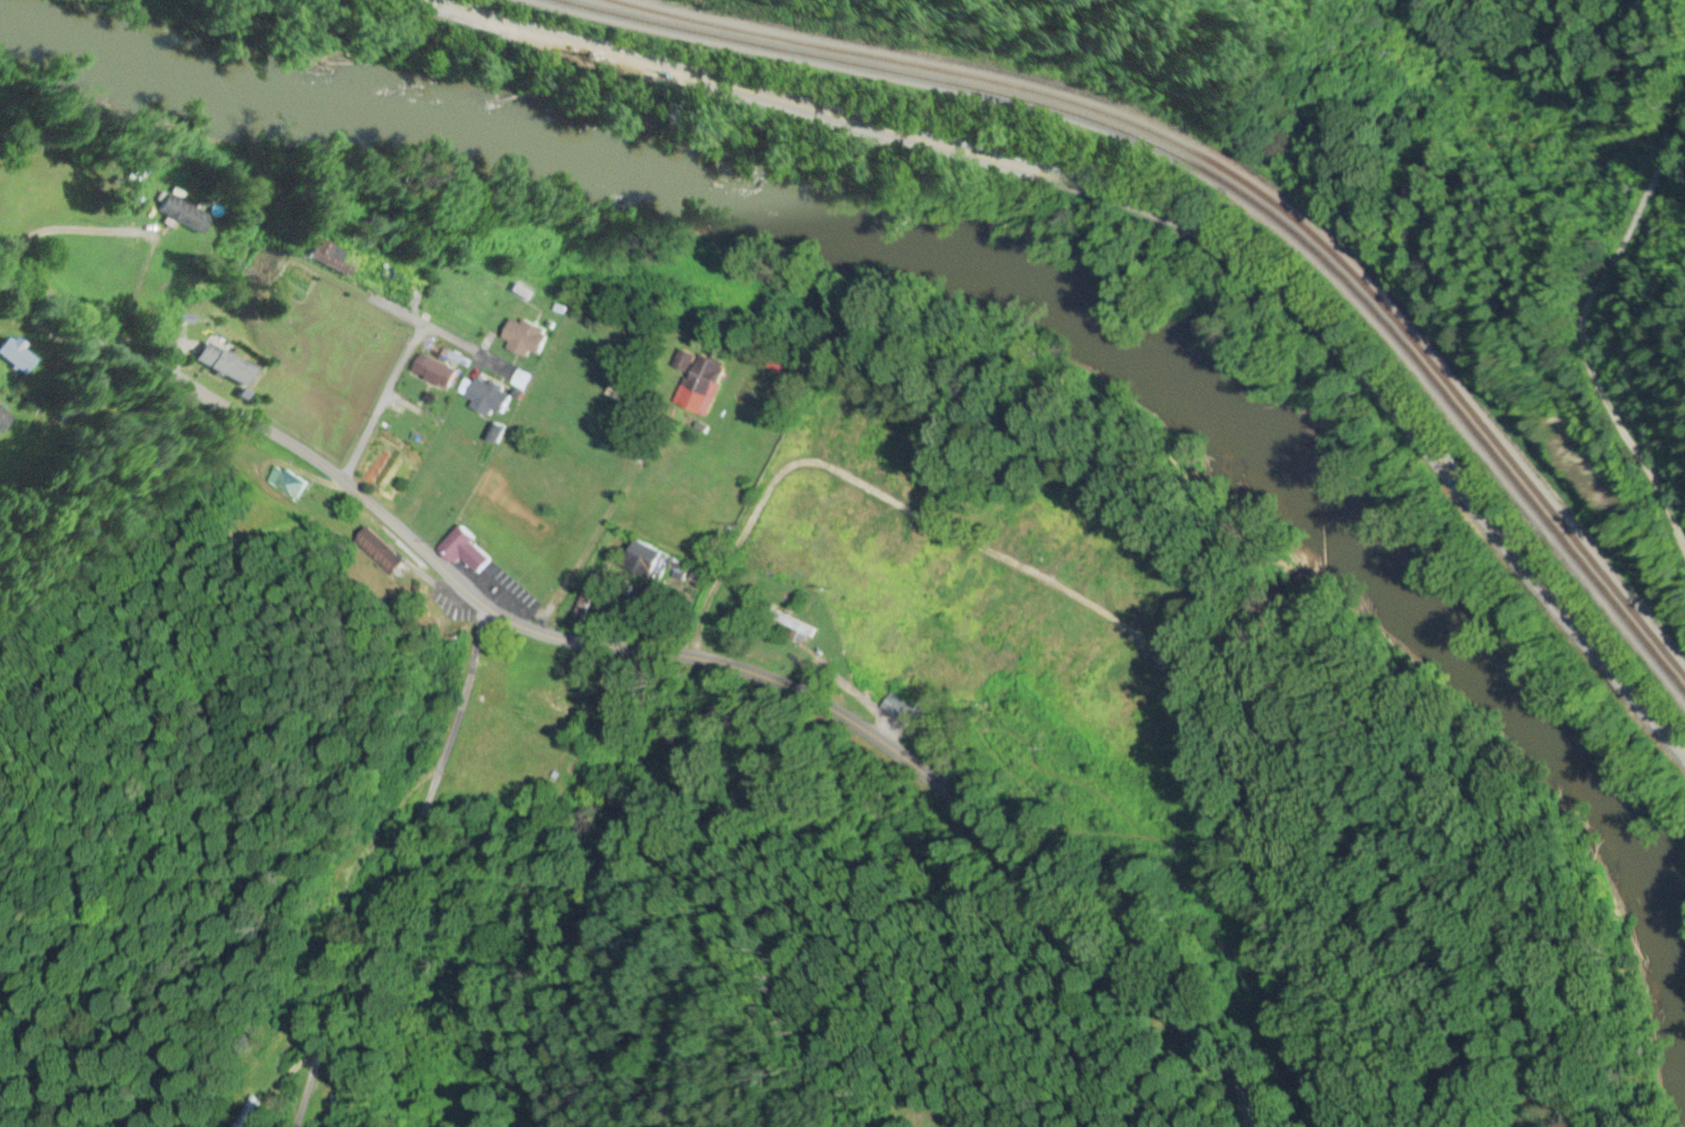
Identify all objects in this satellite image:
building: (29, 181)
railway: (1241, 181)
road: (1152, 213)
building: (182, 215)
building: (326, 257)
building: (126, 263)
river: (1006, 306)
building: (333, 311)
road: (429, 327)
road: (1577, 329)
building: (523, 337)
building: (17, 357)
building: (223, 365)
building: (435, 371)
building: (701, 385)
building: (281, 396)
building: (487, 397)
road: (383, 403)
building: (65, 413)
building: (835, 415)
building: (2, 422)
building: (856, 432)
building: (903, 457)
building: (921, 477)
building: (282, 483)
building: (985, 500)
road: (889, 502)
building: (798, 504)
building: (1030, 520)
building: (839, 521)
building: (1056, 532)
building: (862, 533)
building: (889, 544)
building: (461, 551)
building: (644, 561)
building: (1108, 561)
building: (937, 574)
building: (956, 592)
building: (1171, 597)
building: (585, 598)
building: (1004, 620)
building: (792, 625)
building: (1032, 627)
road: (660, 652)
building: (1085, 661)
building: (1109, 682)
building: (1131, 690)
building: (1155, 701)
building: (555, 708)
building: (895, 709)
road: (402, 872)
building: (323, 912)
road: (1250, 1125)

